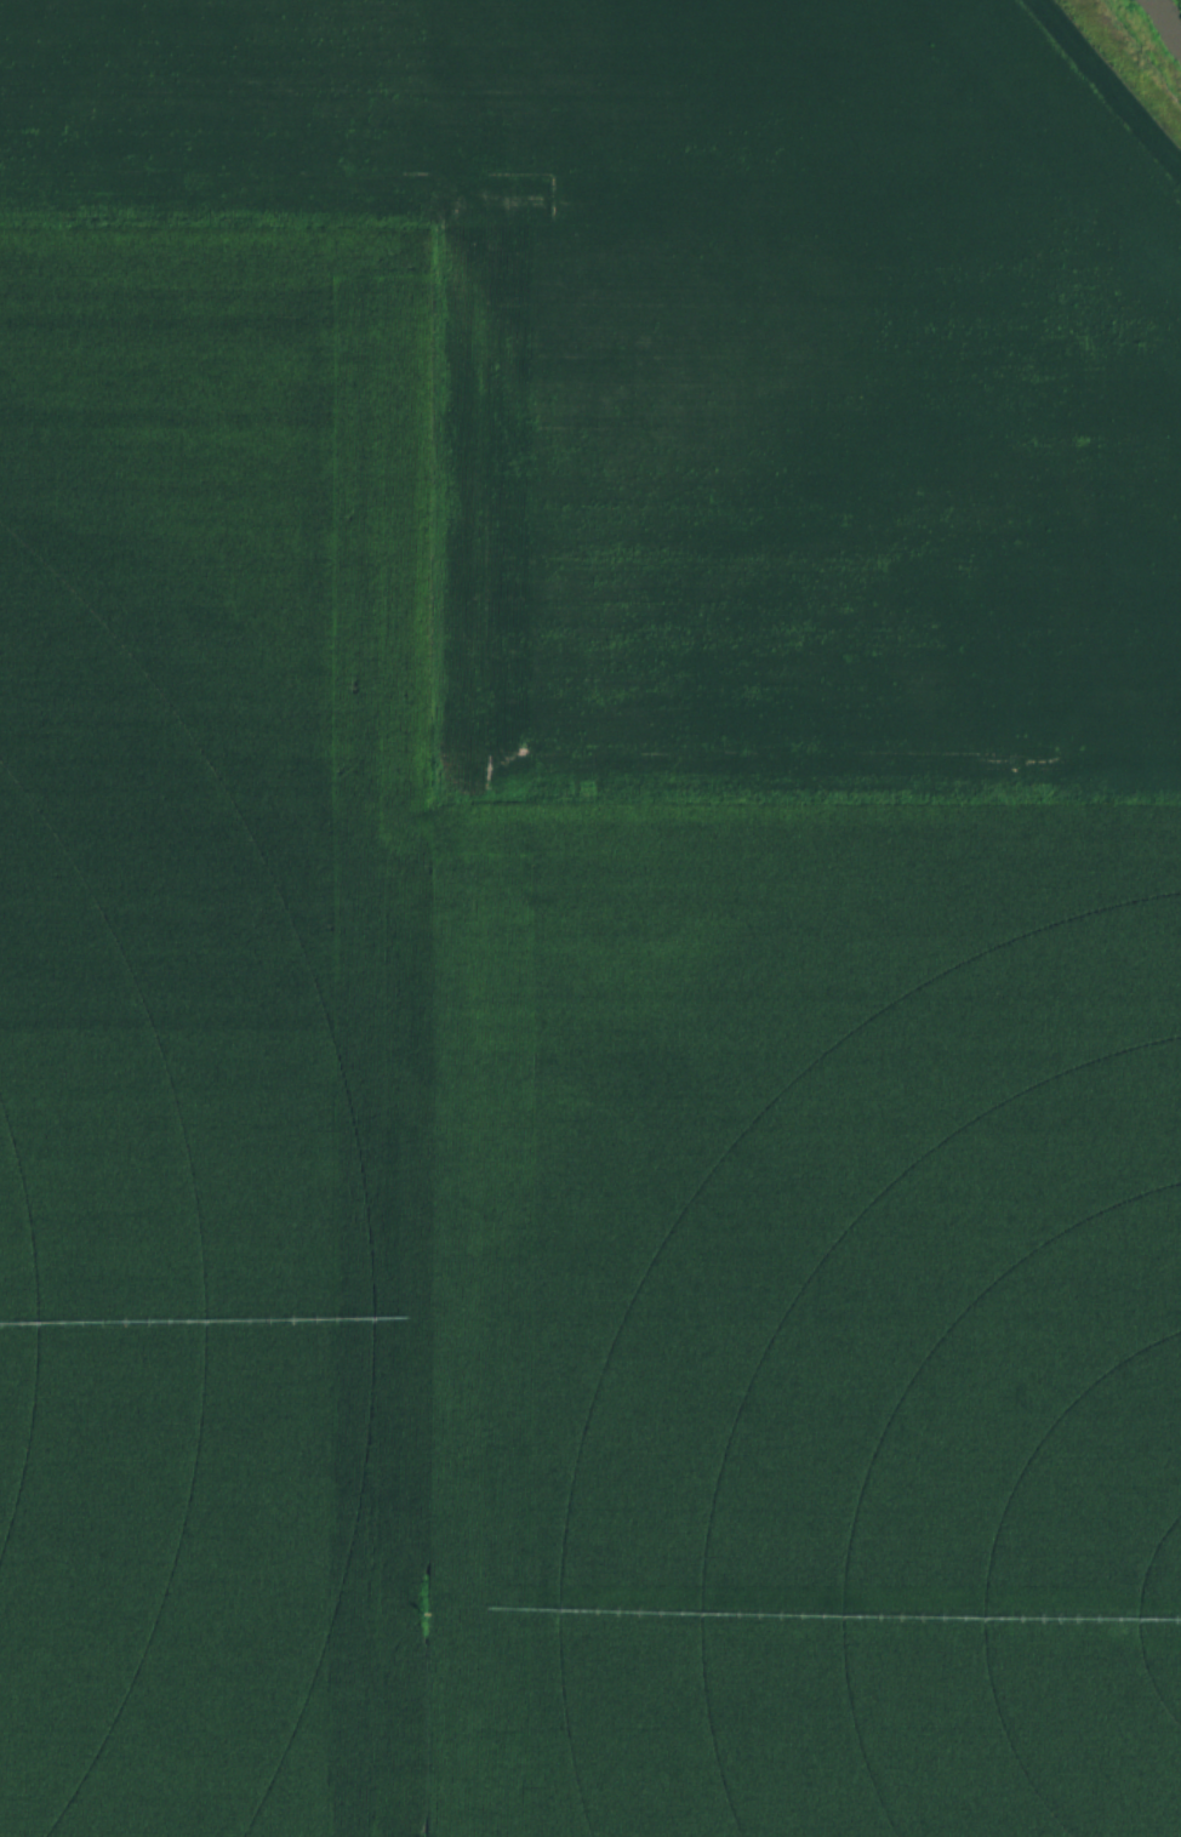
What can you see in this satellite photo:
river: (1163, 23)

